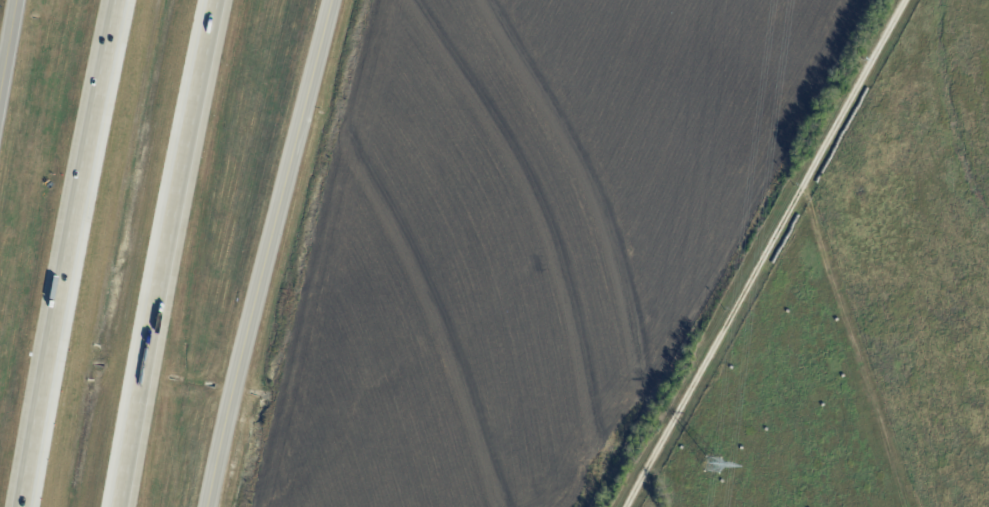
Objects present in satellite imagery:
road: (7, 42)
road: (168, 252)
road: (267, 252)
road: (72, 253)
power tower: (712, 467)

